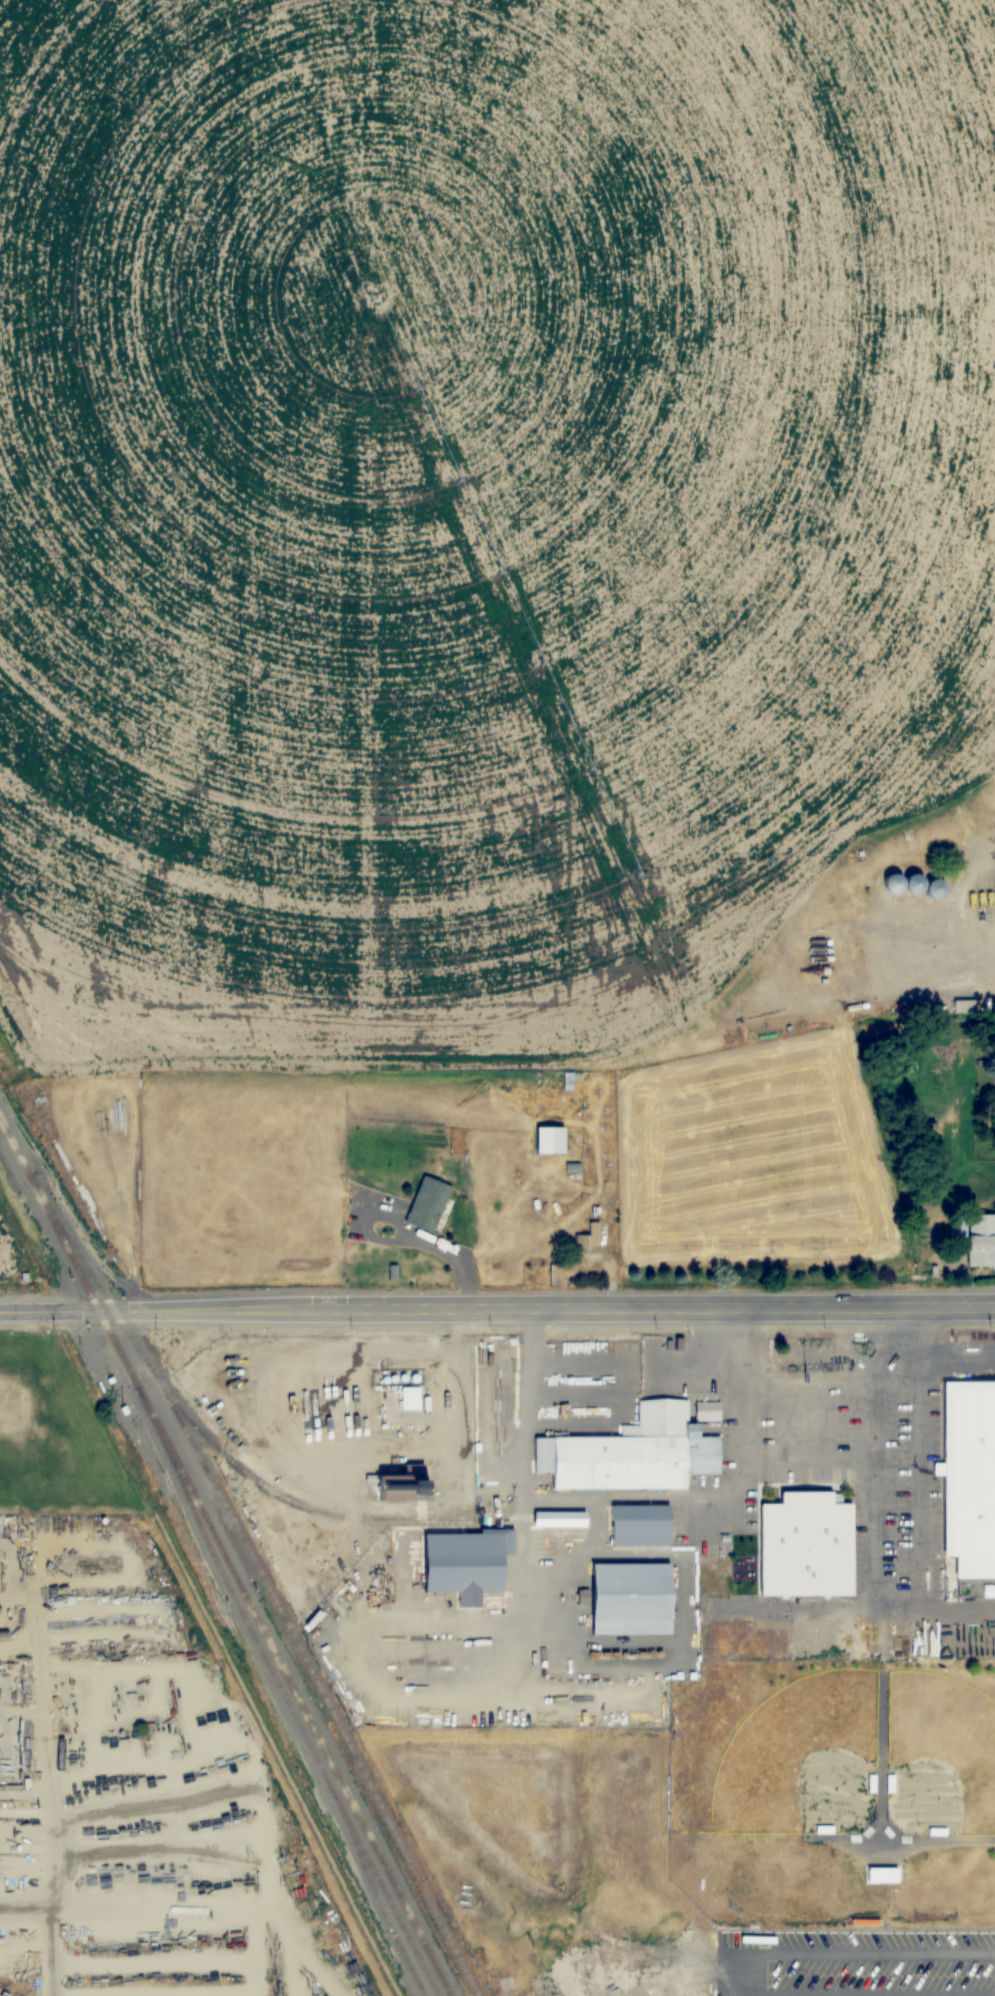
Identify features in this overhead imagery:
building: (907, 883)
building: (551, 1140)
building: (428, 1204)
building: (982, 1241)
building: (589, 1243)
railway: (76, 1267)
road: (497, 1306)
building: (635, 1446)
railway: (226, 1457)
building: (973, 1469)
building: (407, 1484)
building: (561, 1519)
building: (640, 1524)
building: (806, 1549)
building: (470, 1559)
building: (633, 1598)
railway: (320, 1693)
railway: (301, 1706)
railway: (288, 1709)
park: (939, 1755)
park: (801, 1760)
building: (823, 1829)
railway: (383, 1914)

